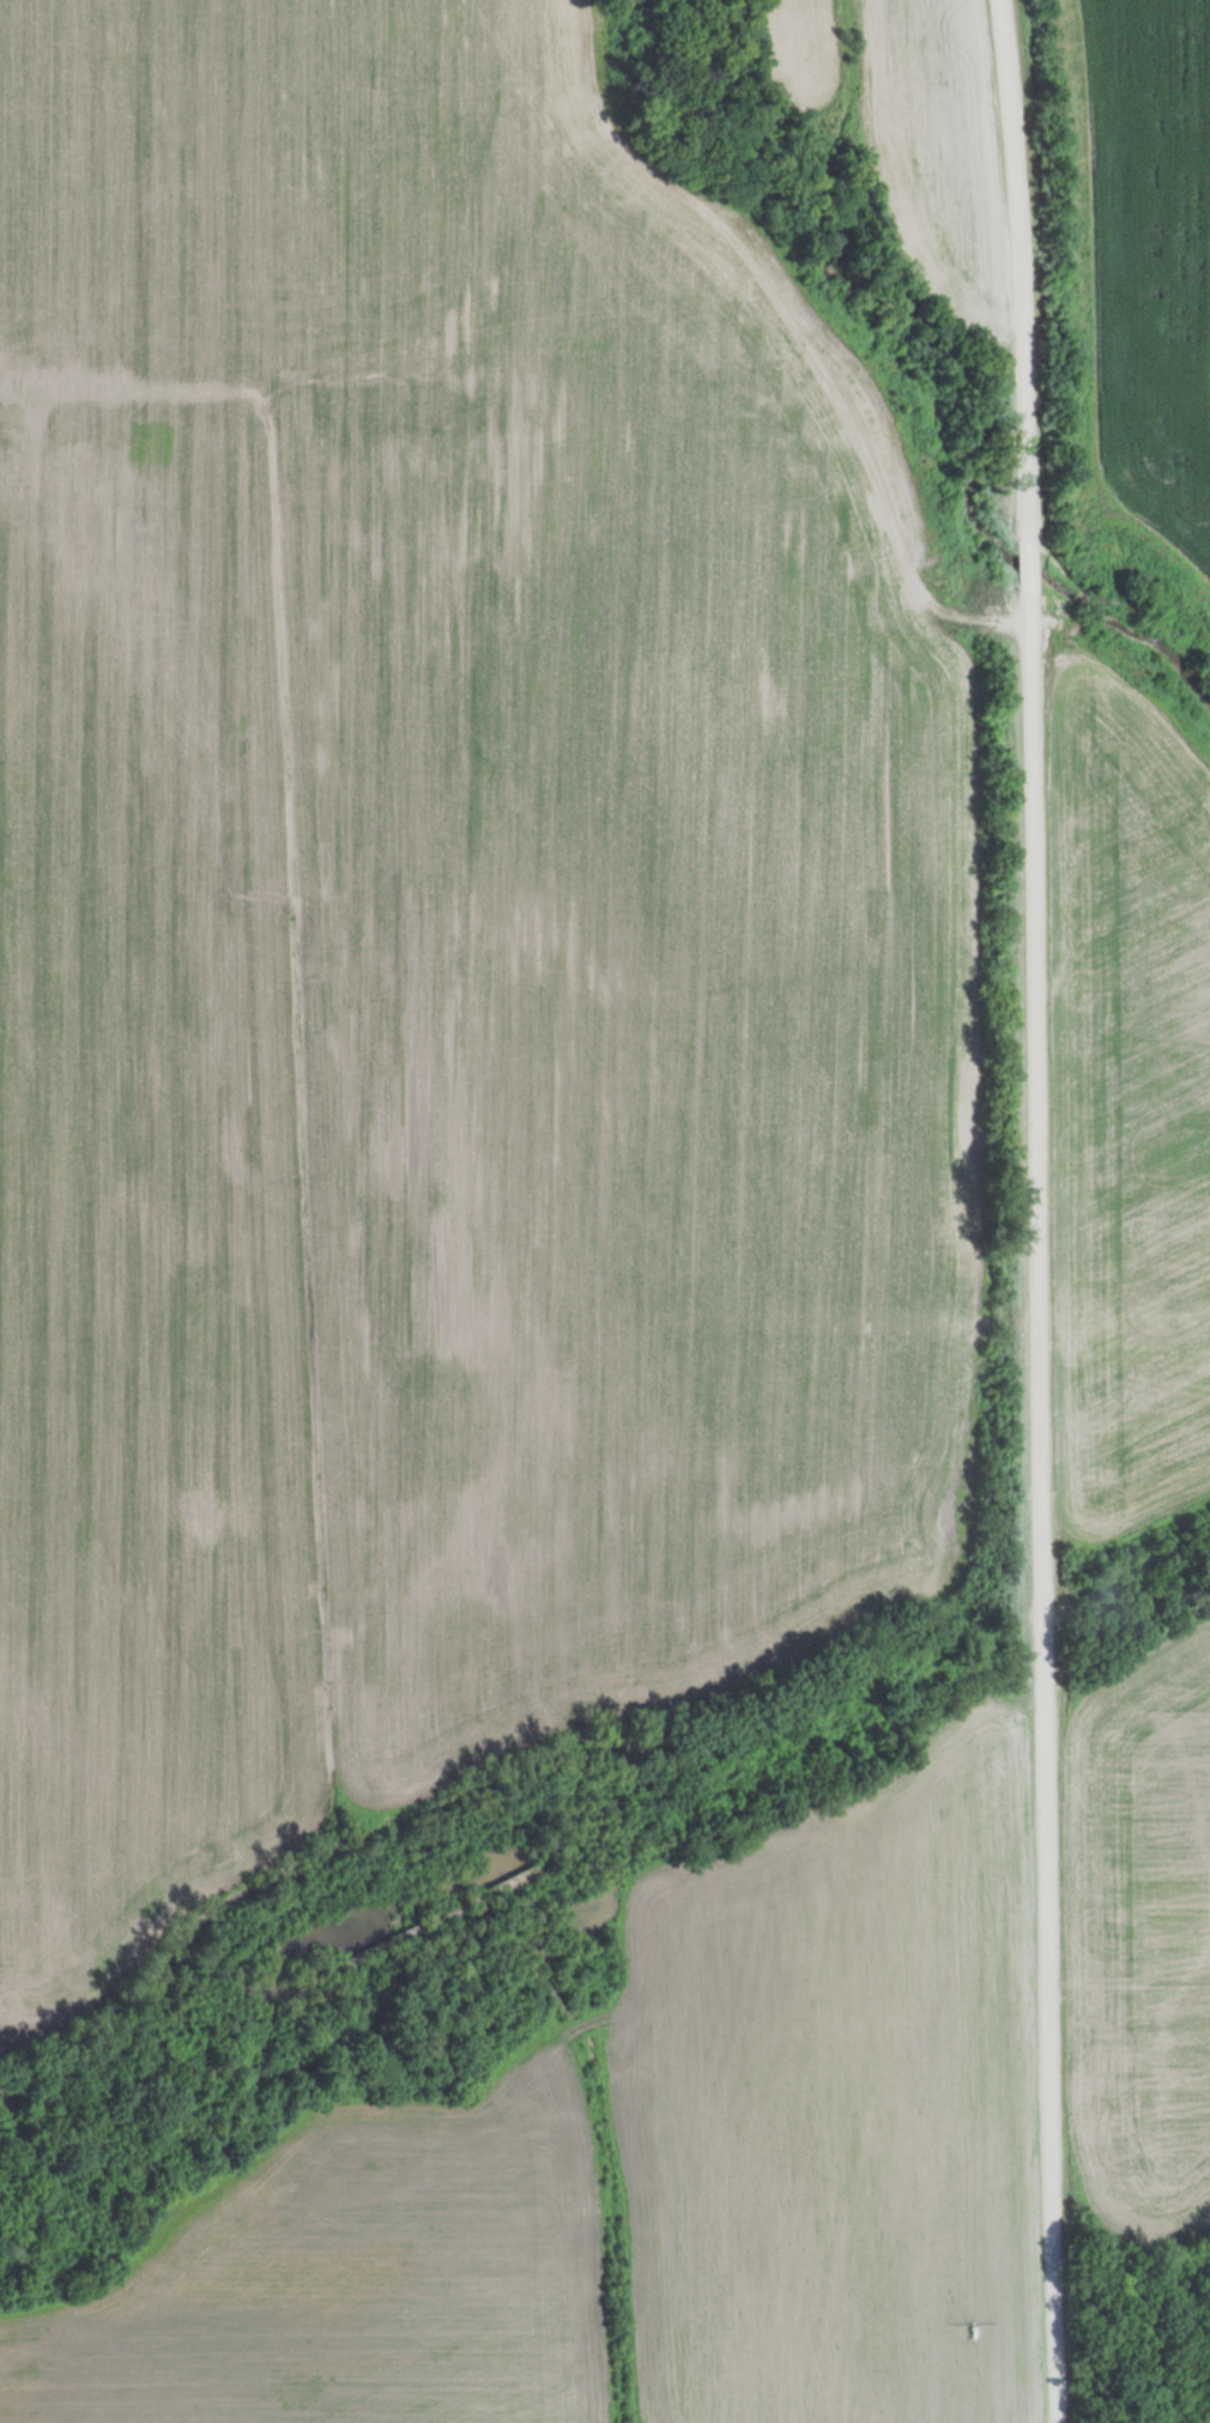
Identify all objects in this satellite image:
crop: (900, 128)
crop: (1150, 279)
crop: (436, 956)
crop: (1127, 1088)
road: (1040, 1210)

